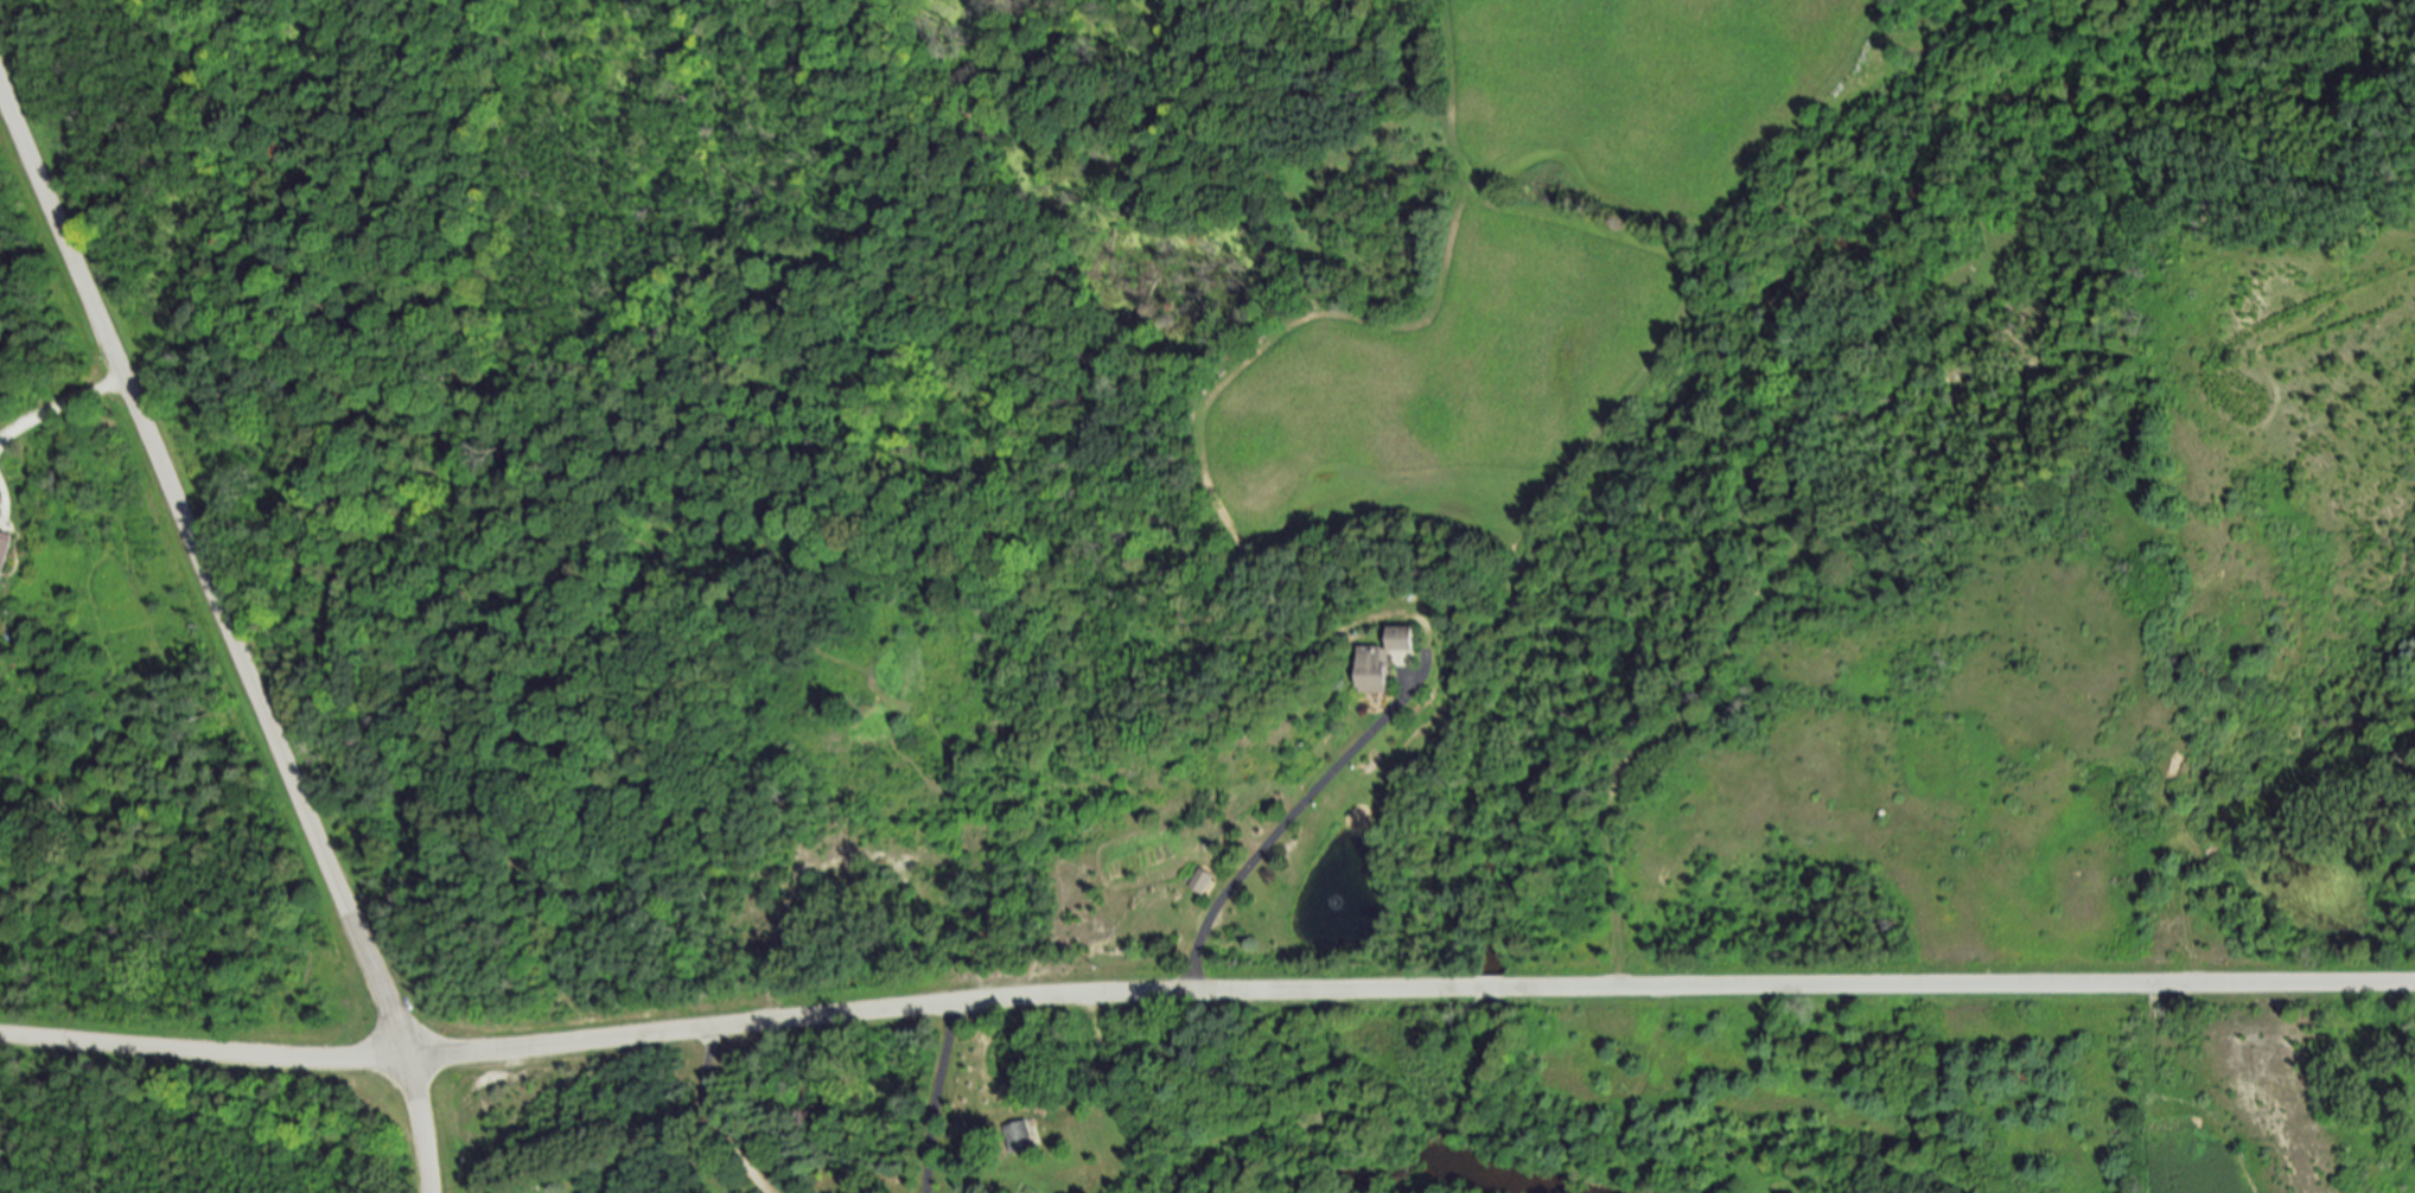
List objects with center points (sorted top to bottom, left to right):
road: (58, 407)
building: (4, 547)
road: (228, 636)
building: (1403, 638)
building: (1374, 669)
road: (1277, 823)
building: (1200, 880)
road: (1205, 990)
road: (937, 1097)
road: (706, 1122)
river: (1427, 1169)

